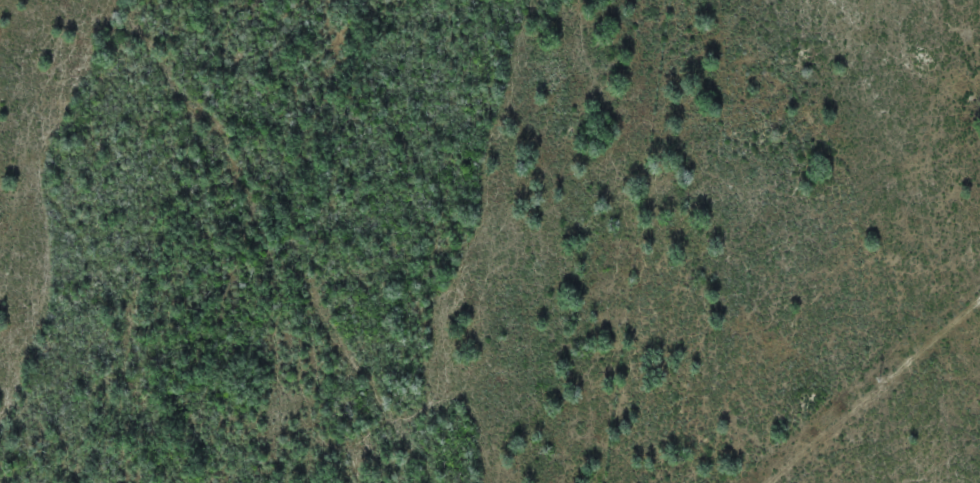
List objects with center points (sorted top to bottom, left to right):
road: (881, 395)

